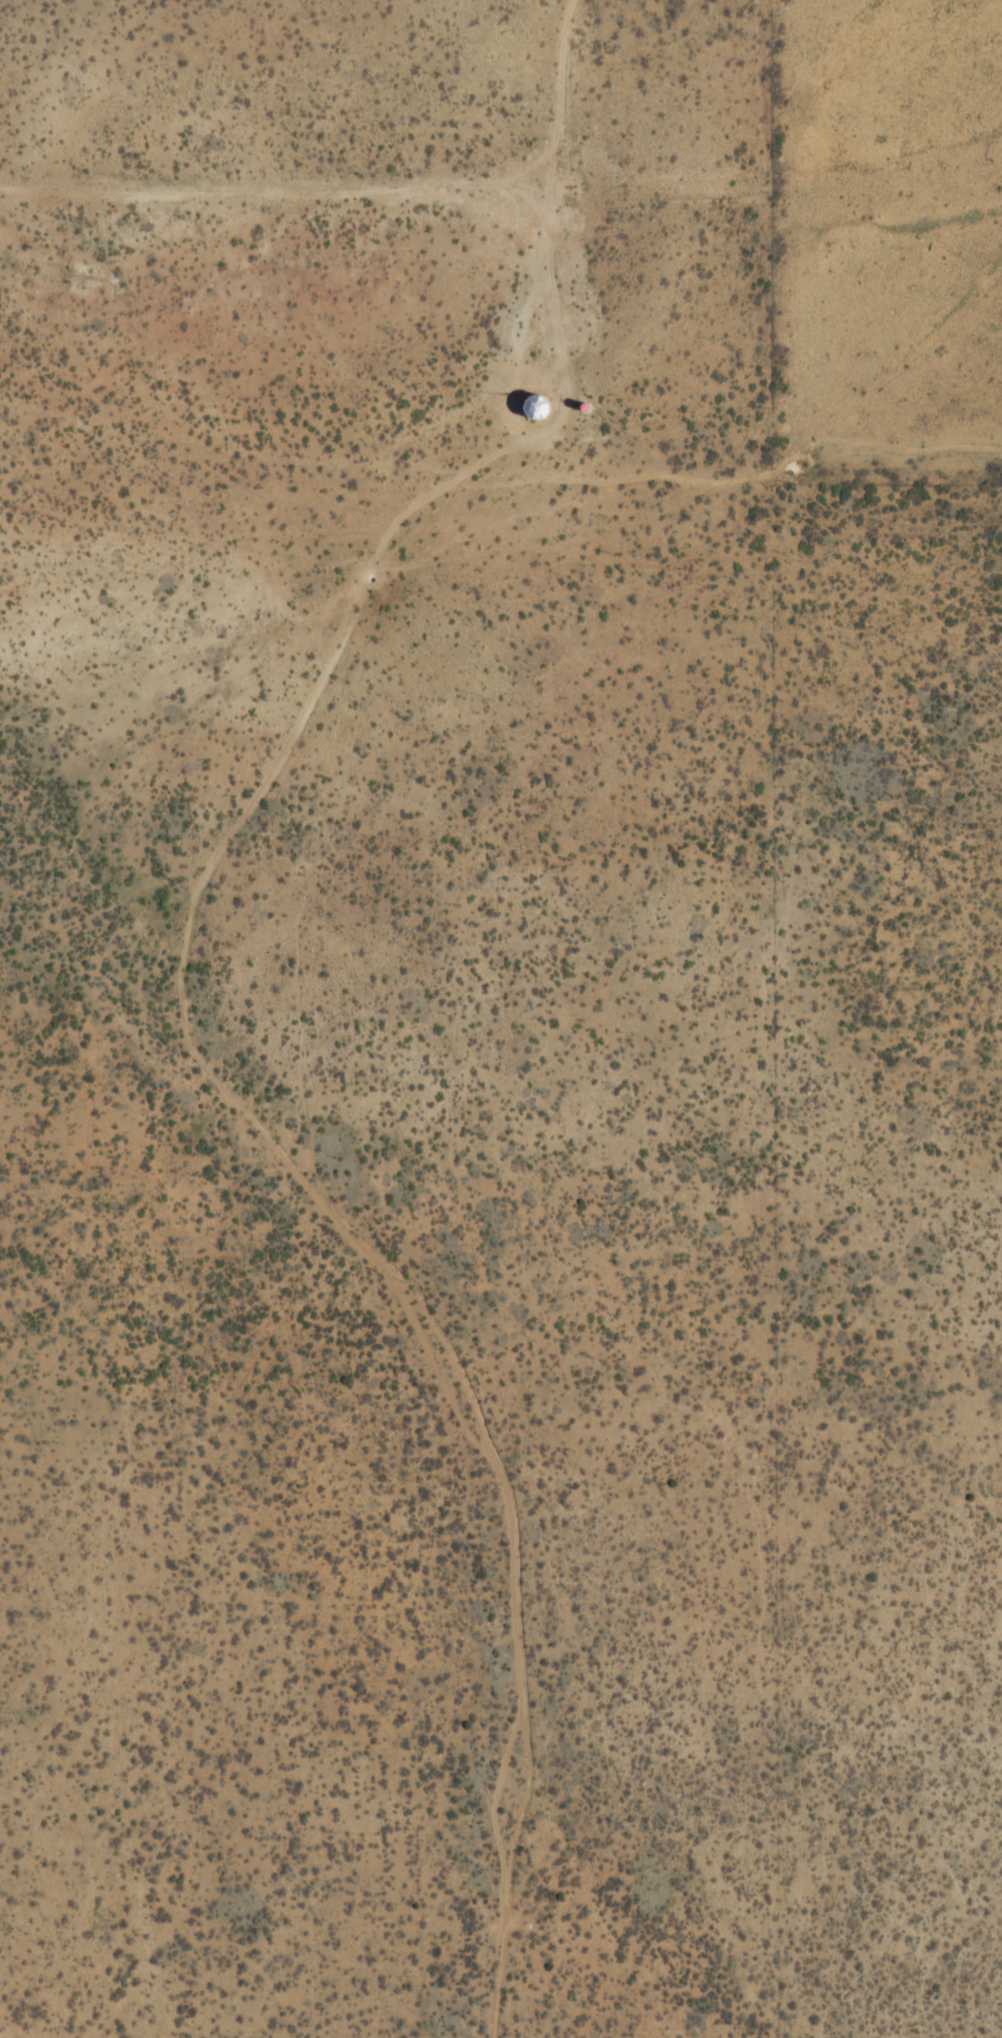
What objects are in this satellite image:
building: (548, 394)
storage tank: (548, 394)

